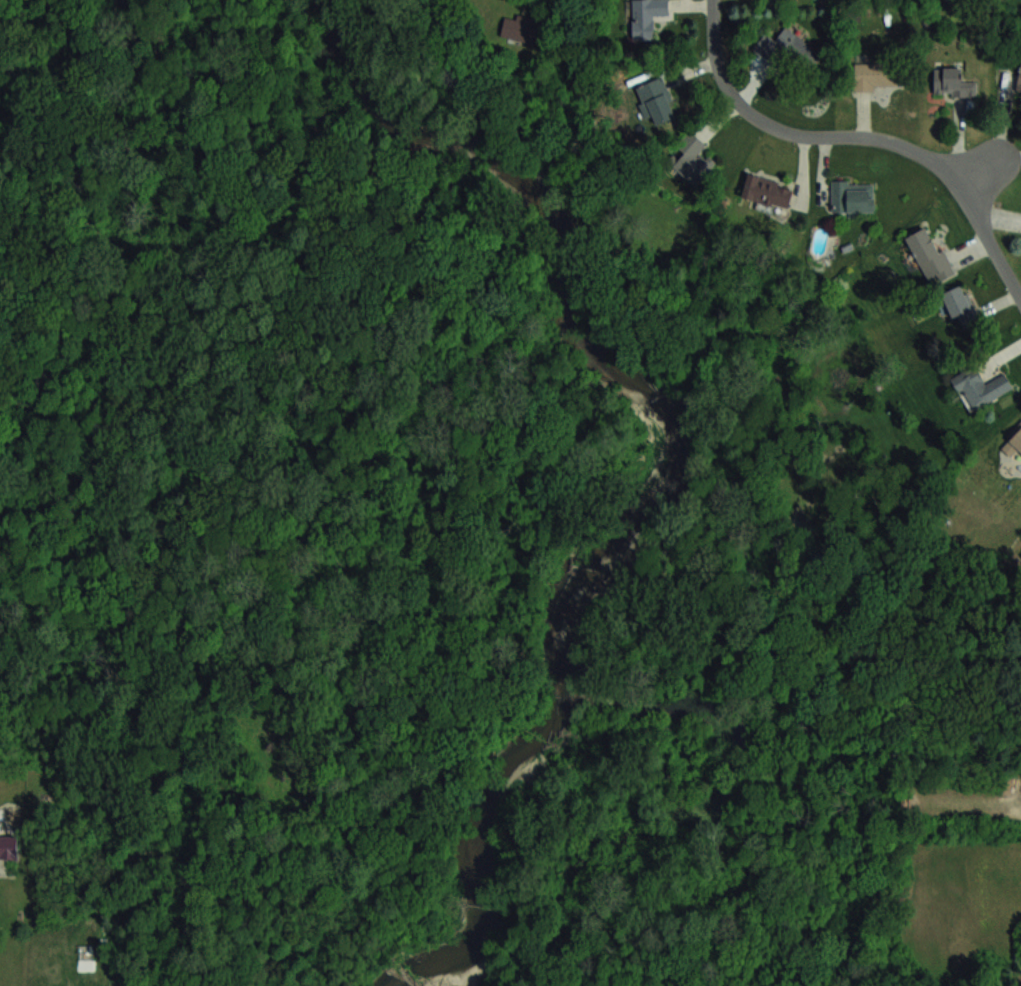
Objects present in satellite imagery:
building: (646, 17)
building: (521, 28)
building: (791, 49)
building: (870, 75)
building: (1018, 81)
building: (952, 82)
building: (657, 102)
road: (871, 134)
building: (687, 160)
building: (767, 191)
building: (852, 197)
building: (929, 253)
building: (959, 303)
park: (262, 358)
building: (980, 388)
building: (1013, 441)
river: (657, 451)
building: (8, 847)

